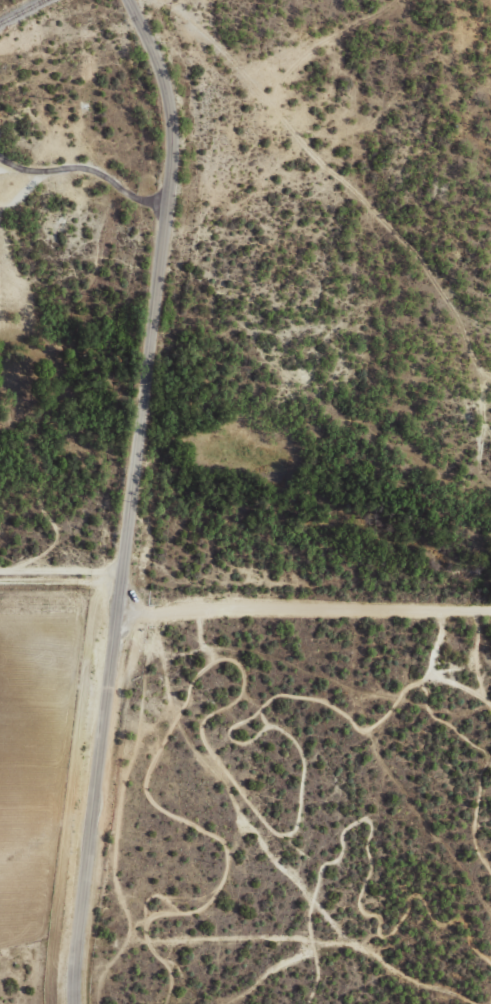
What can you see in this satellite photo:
railway: (19, 10)
road: (128, 498)
road: (302, 607)

